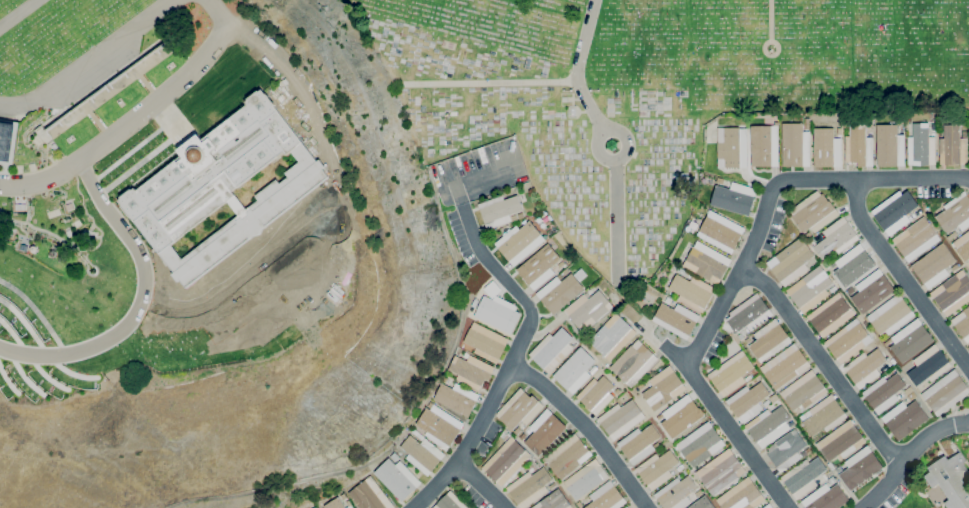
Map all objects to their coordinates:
road: (19, 14)
road: (769, 21)
road: (90, 58)
road: (578, 69)
road: (292, 80)
road: (490, 83)
road: (126, 123)
building: (807, 123)
building: (933, 127)
building: (871, 128)
building: (839, 132)
building: (6, 140)
building: (795, 145)
building: (54, 146)
building: (764, 146)
building: (859, 146)
building: (890, 146)
building: (921, 146)
building: (953, 146)
building: (732, 147)
building: (826, 148)
building: (968, 149)
park: (359, 157)
road: (615, 158)
road: (874, 178)
building: (722, 181)
building: (222, 186)
building: (734, 198)
building: (68, 206)
building: (19, 207)
building: (499, 211)
building: (813, 212)
building: (898, 213)
building: (955, 213)
building: (520, 215)
road: (616, 221)
building: (720, 231)
building: (808, 234)
building: (9, 235)
building: (951, 235)
building: (836, 238)
building: (916, 239)
building: (519, 242)
building: (812, 242)
building: (962, 246)
building: (707, 262)
building: (791, 262)
building: (855, 263)
building: (561, 264)
building: (934, 265)
building: (539, 266)
building: (956, 267)
building: (681, 271)
building: (565, 272)
road: (736, 276)
road: (902, 277)
building: (810, 289)
building: (491, 290)
building: (850, 290)
building: (561, 291)
building: (692, 291)
building: (872, 291)
building: (952, 292)
building: (667, 300)
road: (139, 302)
building: (473, 305)
building: (588, 309)
building: (470, 310)
building: (496, 314)
building: (749, 314)
building: (830, 315)
building: (890, 315)
building: (676, 319)
building: (962, 323)
building: (740, 336)
building: (612, 337)
building: (747, 340)
building: (768, 340)
building: (848, 341)
building: (485, 342)
building: (908, 342)
building: (574, 343)
building: (968, 347)
road: (515, 350)
building: (552, 350)
road: (824, 362)
building: (634, 363)
building: (928, 365)
building: (785, 366)
building: (887, 366)
building: (865, 367)
building: (470, 370)
building: (593, 370)
building: (575, 371)
building: (731, 374)
building: (663, 388)
building: (804, 390)
building: (617, 391)
building: (945, 392)
building: (884, 393)
building: (901, 394)
building: (596, 395)
building: (456, 398)
building: (774, 398)
building: (908, 398)
building: (748, 401)
building: (766, 403)
building: (519, 409)
building: (680, 416)
building: (823, 416)
building: (904, 418)
building: (621, 419)
building: (791, 424)
building: (767, 425)
building: (438, 426)
road: (587, 426)
road: (730, 427)
building: (517, 431)
building: (544, 432)
building: (417, 435)
building: (522, 437)
building: (841, 441)
building: (639, 444)
building: (700, 444)
building: (787, 450)
building: (421, 454)
road: (909, 455)
building: (568, 456)
building: (506, 461)
building: (831, 466)
building: (860, 468)
building: (657, 469)
building: (721, 472)
building: (803, 477)
building: (585, 479)
building: (950, 479)
building: (394, 480)
building: (821, 480)
road: (480, 484)
building: (552, 485)
building: (529, 487)
building: (676, 493)
building: (698, 493)
building: (369, 495)
building: (342, 496)
building: (741, 496)
building: (606, 497)
building: (826, 497)
building: (585, 500)
building: (554, 501)
building: (450, 502)
building: (703, 503)
building: (333, 504)
building: (348, 504)
building: (767, 506)
building: (314, 507)
building: (626, 507)

